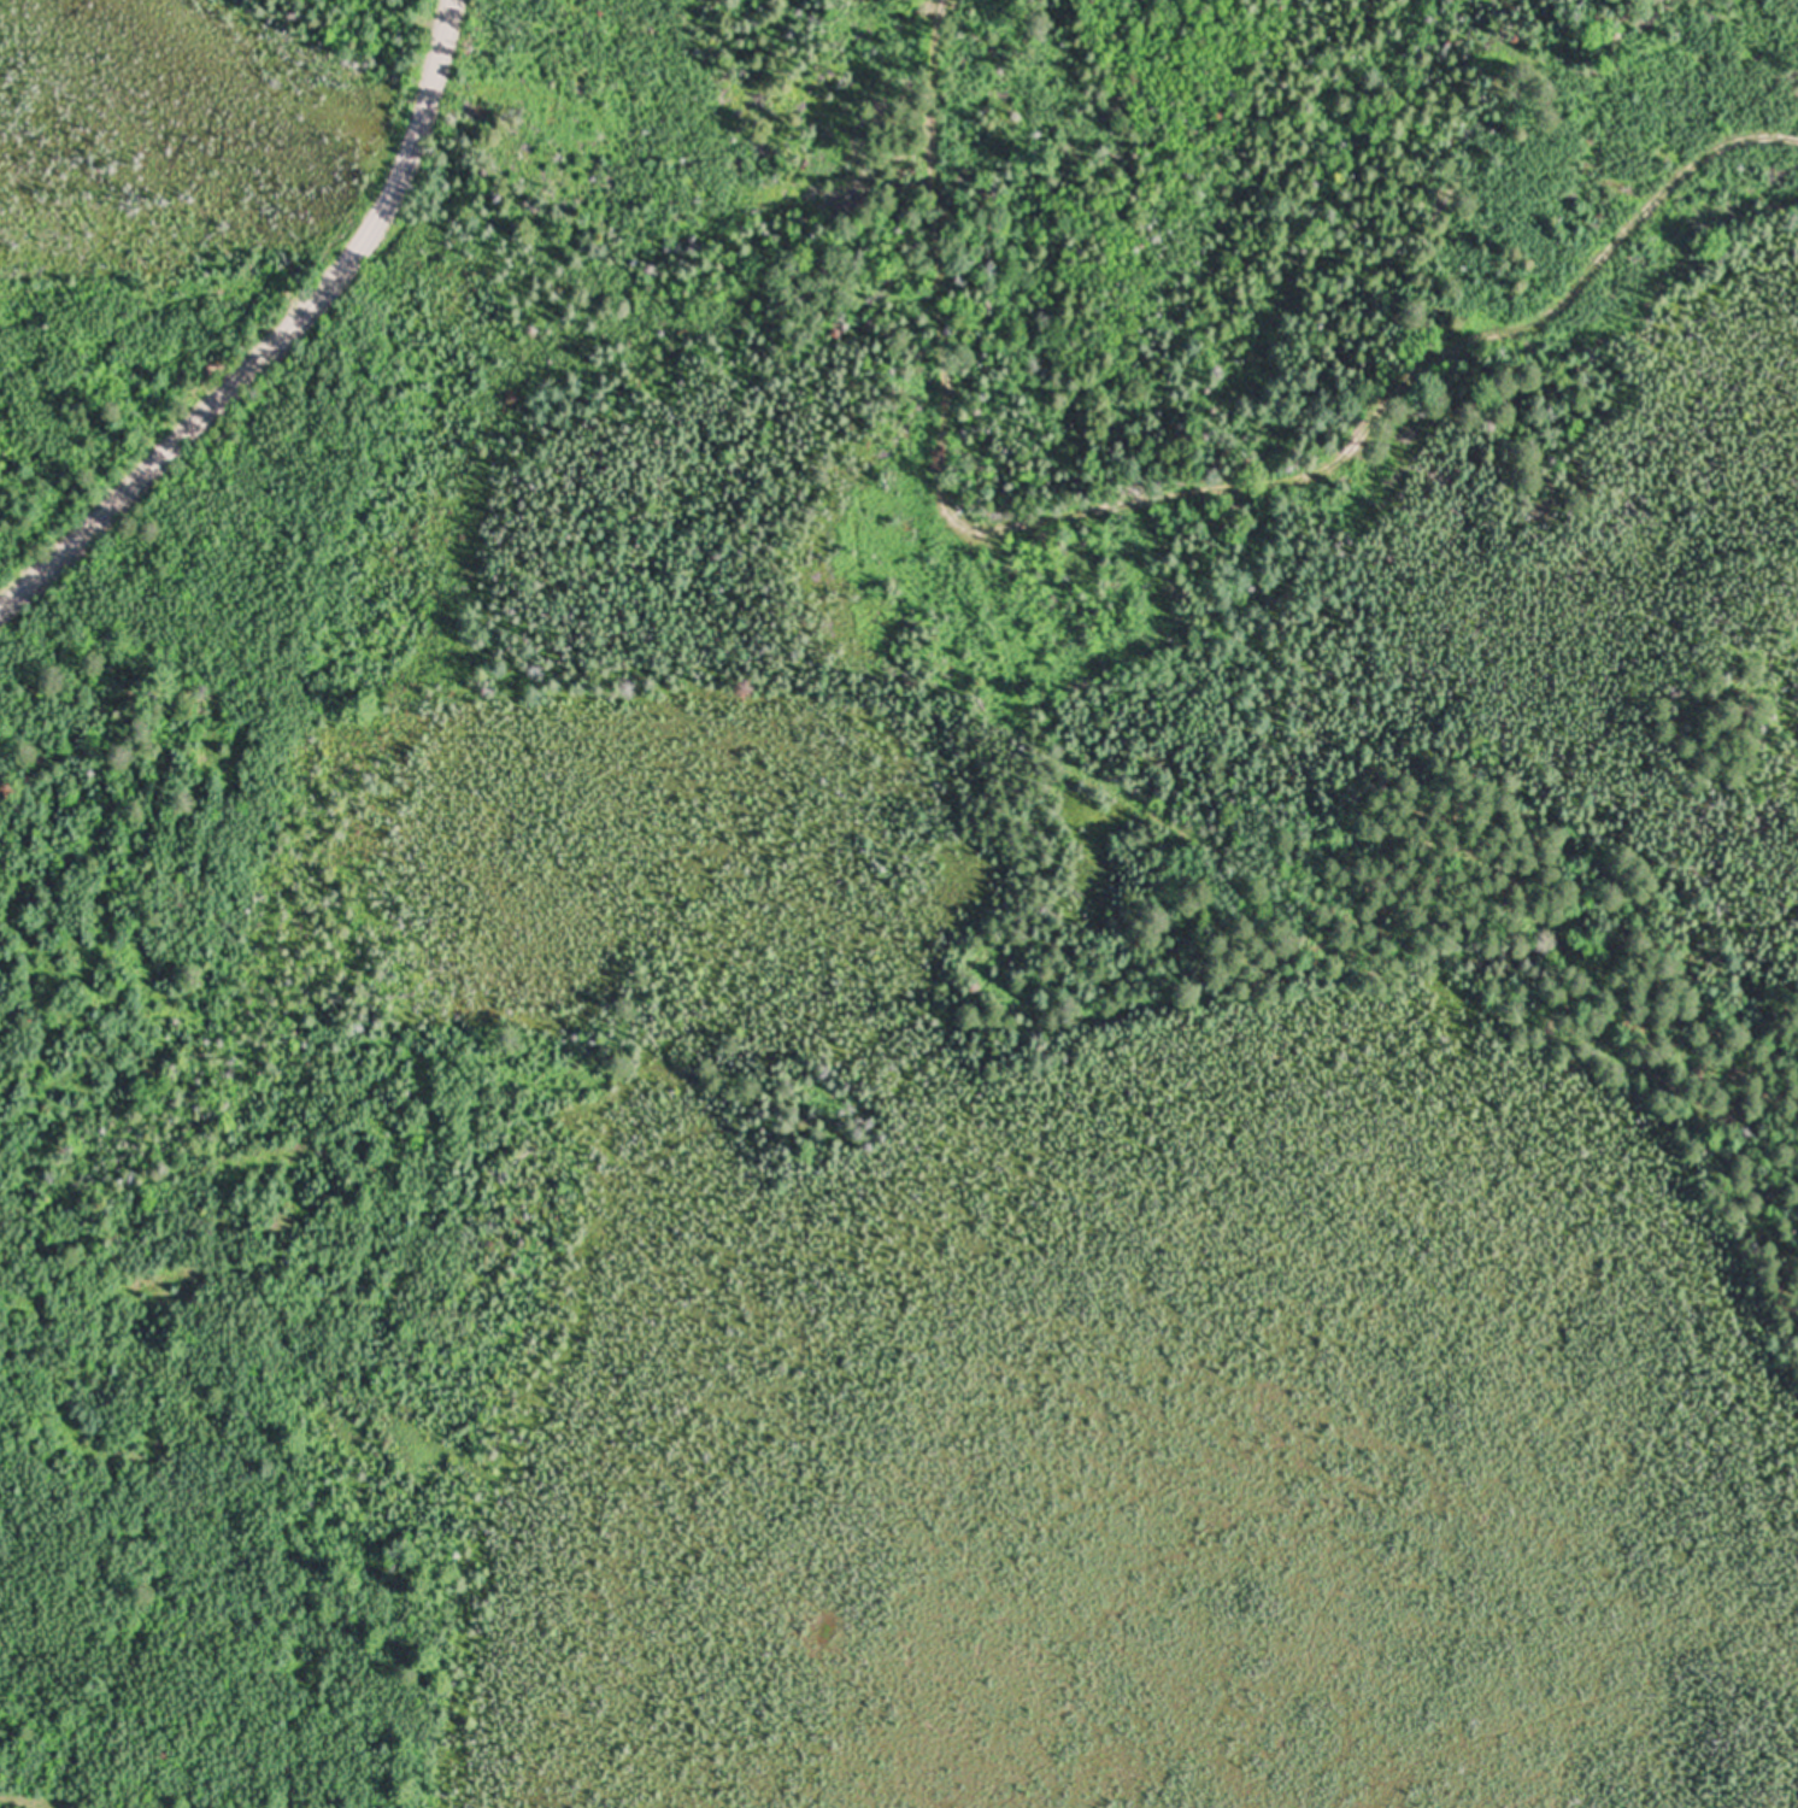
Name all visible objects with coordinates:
road: (280, 341)

